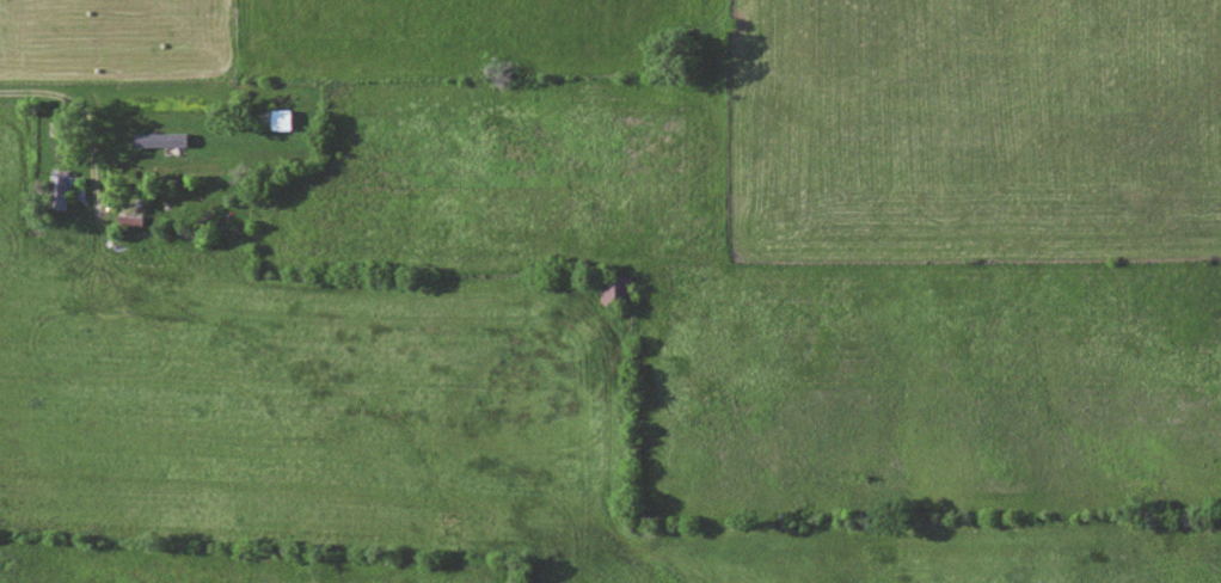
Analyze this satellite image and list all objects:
crop: (484, 41)
building: (42, 157)
building: (60, 192)

